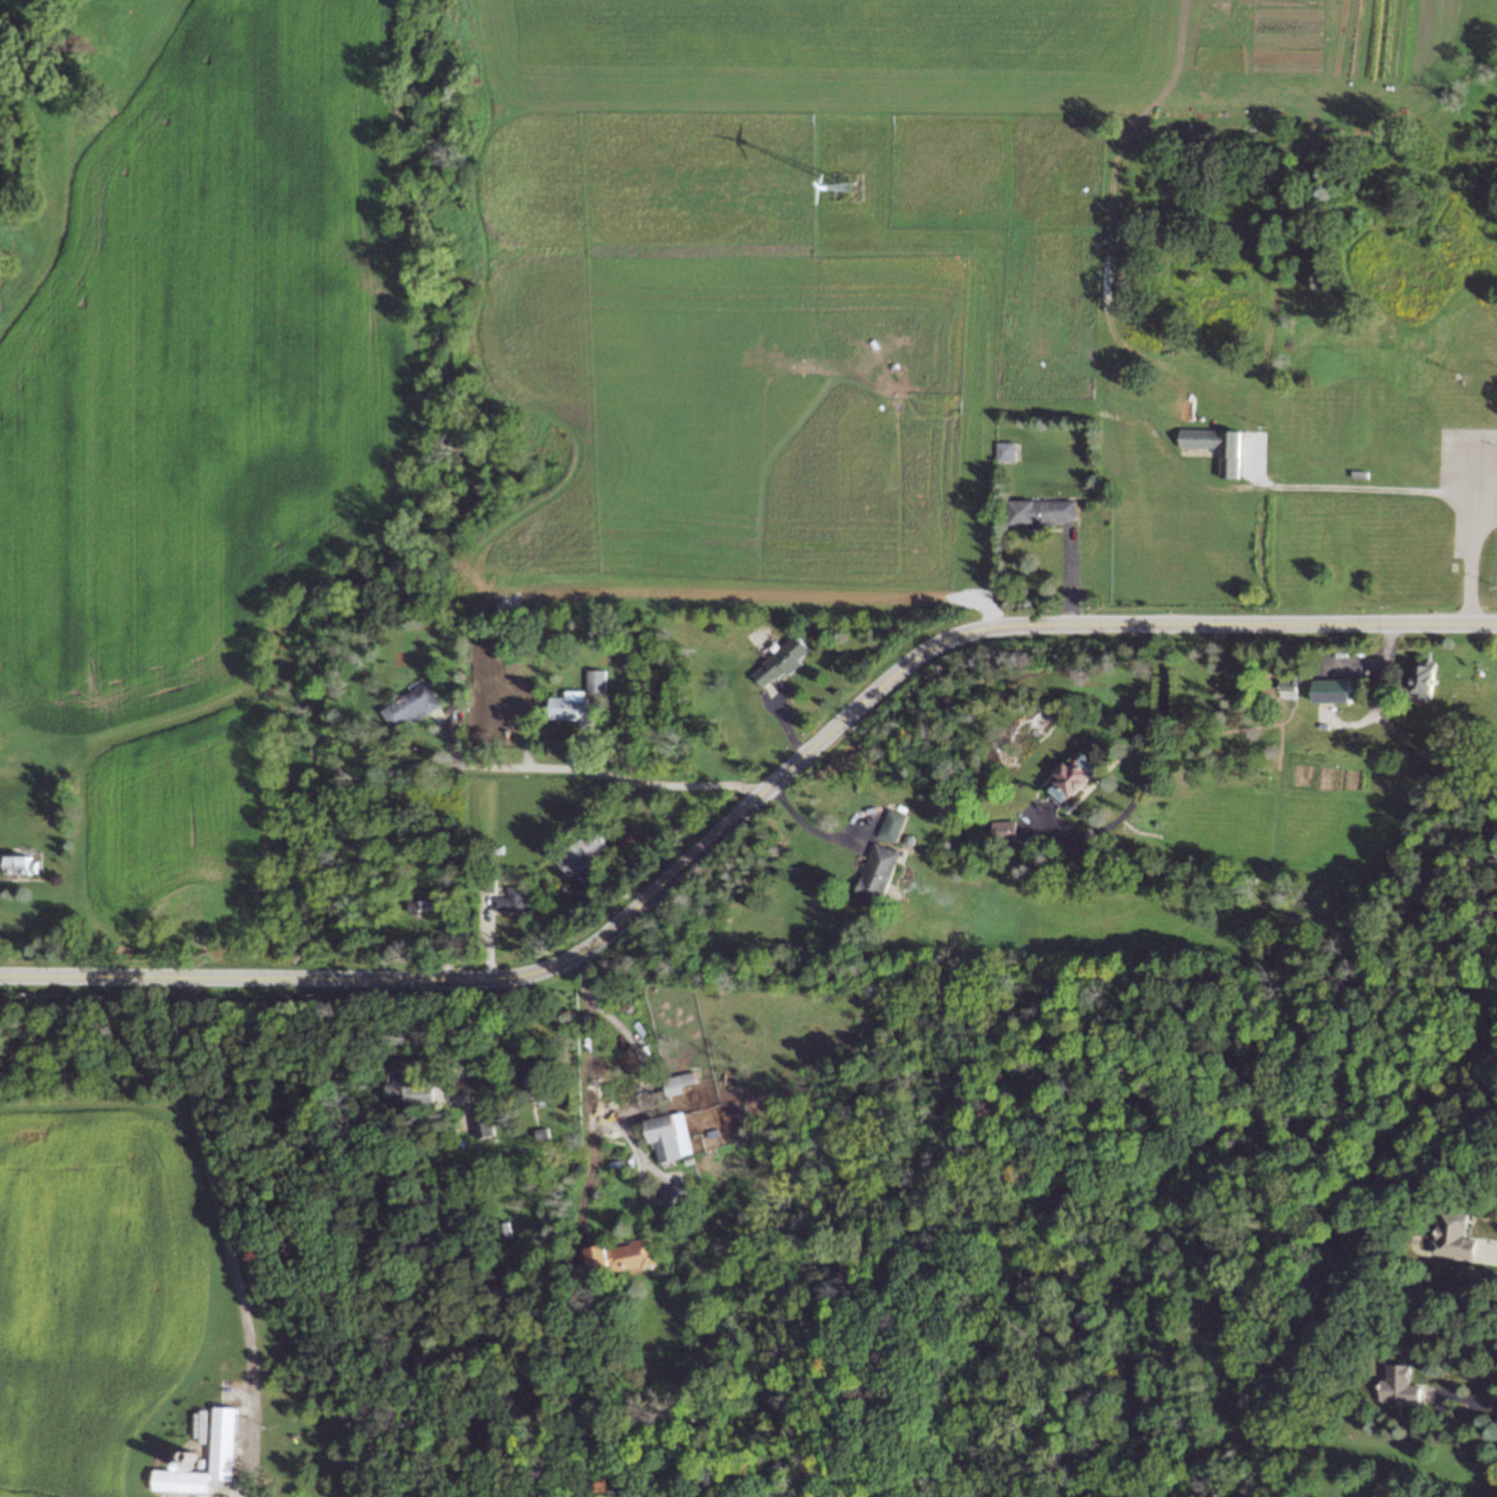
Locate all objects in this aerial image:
crop: (204, 359)
building: (1211, 445)
building: (1001, 450)
building: (1355, 472)
road: (1354, 484)
building: (1038, 511)
road: (1470, 533)
building: (386, 619)
building: (584, 621)
road: (1267, 622)
road: (975, 627)
building: (779, 655)
building: (1421, 678)
building: (591, 679)
building: (522, 683)
building: (1286, 686)
building: (1327, 686)
building: (408, 703)
building: (564, 706)
building: (499, 707)
road: (584, 729)
road: (525, 730)
road: (450, 739)
road: (1145, 767)
road: (608, 775)
building: (1068, 776)
road: (756, 796)
building: (888, 823)
road: (807, 826)
crop: (181, 829)
building: (999, 830)
building: (904, 839)
building: (493, 848)
building: (578, 851)
building: (438, 858)
building: (17, 862)
building: (874, 872)
building: (486, 880)
building: (581, 880)
building: (422, 897)
building: (506, 903)
road: (204, 977)
road: (506, 977)
building: (535, 1073)
building: (673, 1079)
building: (406, 1082)
road: (631, 1103)
building: (480, 1118)
building: (542, 1127)
building: (663, 1132)
building: (710, 1133)
building: (679, 1187)
building: (591, 1194)
building: (504, 1226)
road: (225, 1236)
building: (1448, 1237)
building: (618, 1258)
crop: (94, 1291)
building: (225, 1385)
building: (1394, 1385)
building: (217, 1391)
building: (211, 1397)
road: (1482, 1401)
building: (198, 1425)
building: (183, 1454)
building: (200, 1461)
building: (178, 1464)

